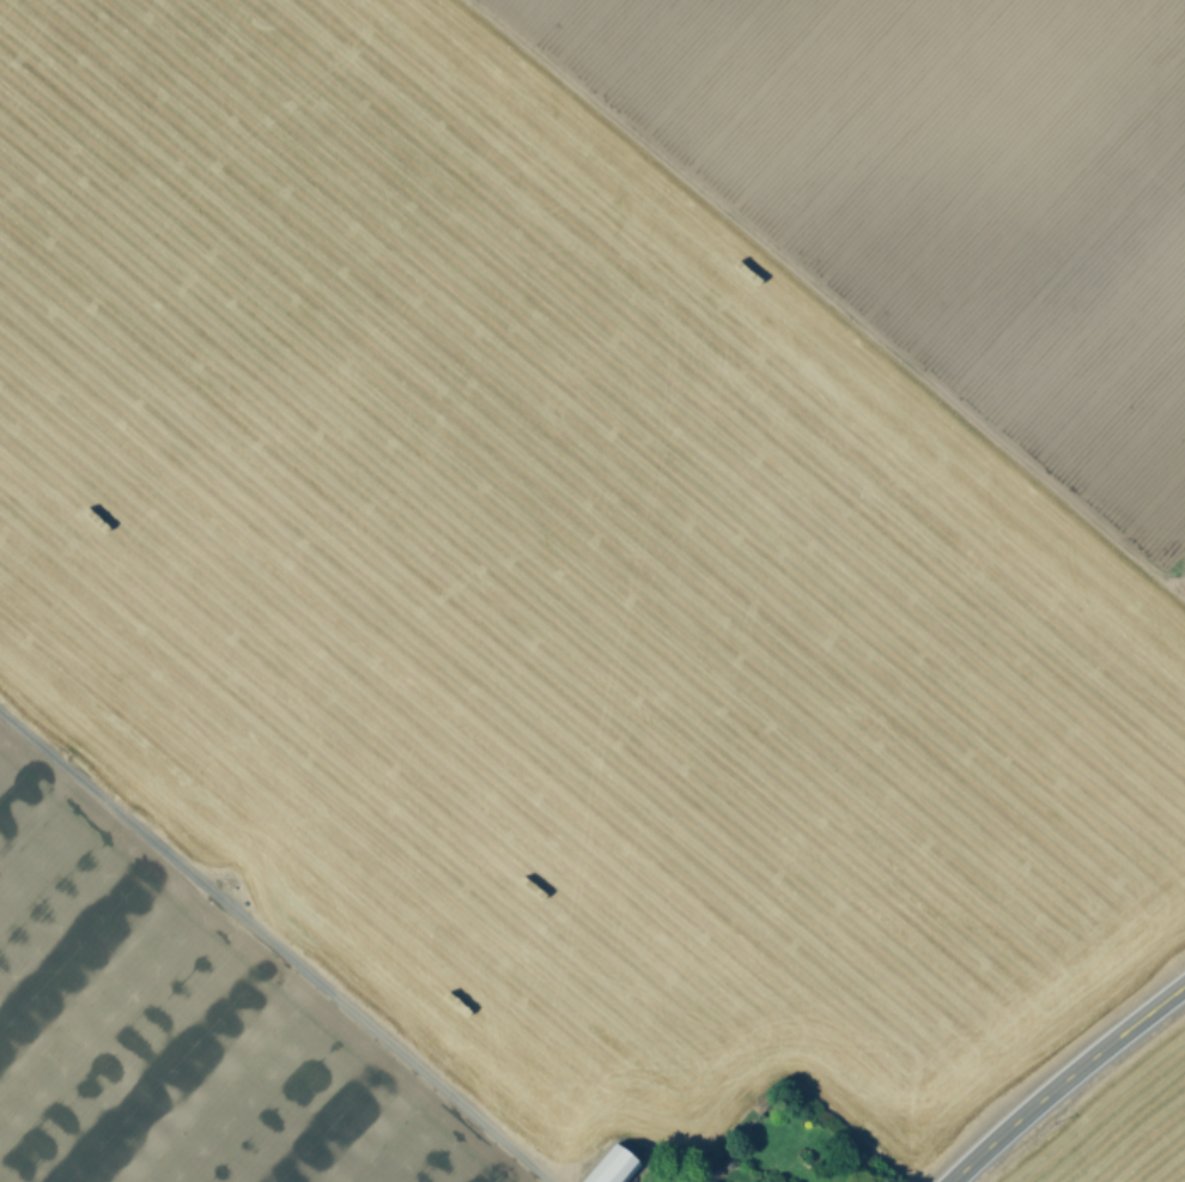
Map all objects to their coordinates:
crop: (579, 577)
road: (1064, 1079)
crop: (1129, 1134)
building: (613, 1164)
building: (689, 1180)
building: (780, 1181)

